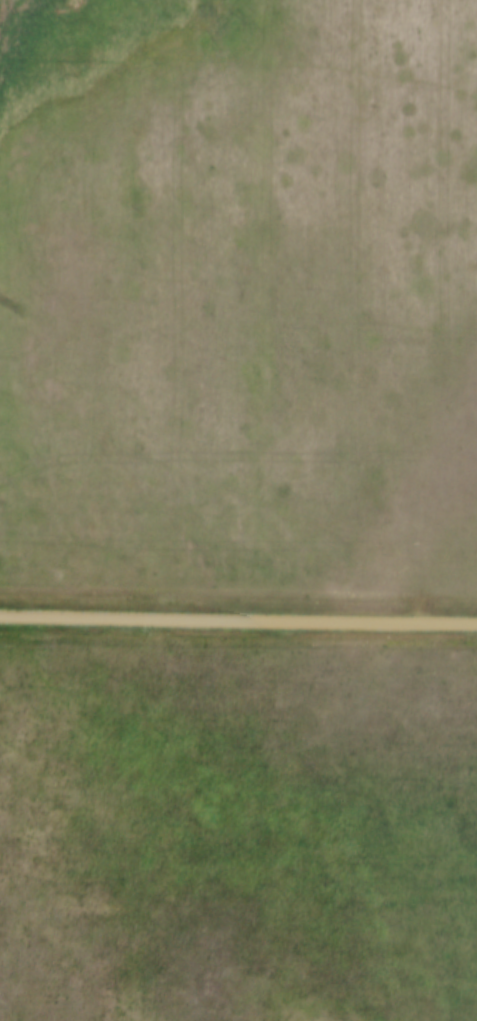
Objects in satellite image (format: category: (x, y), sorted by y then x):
road: (238, 622)

